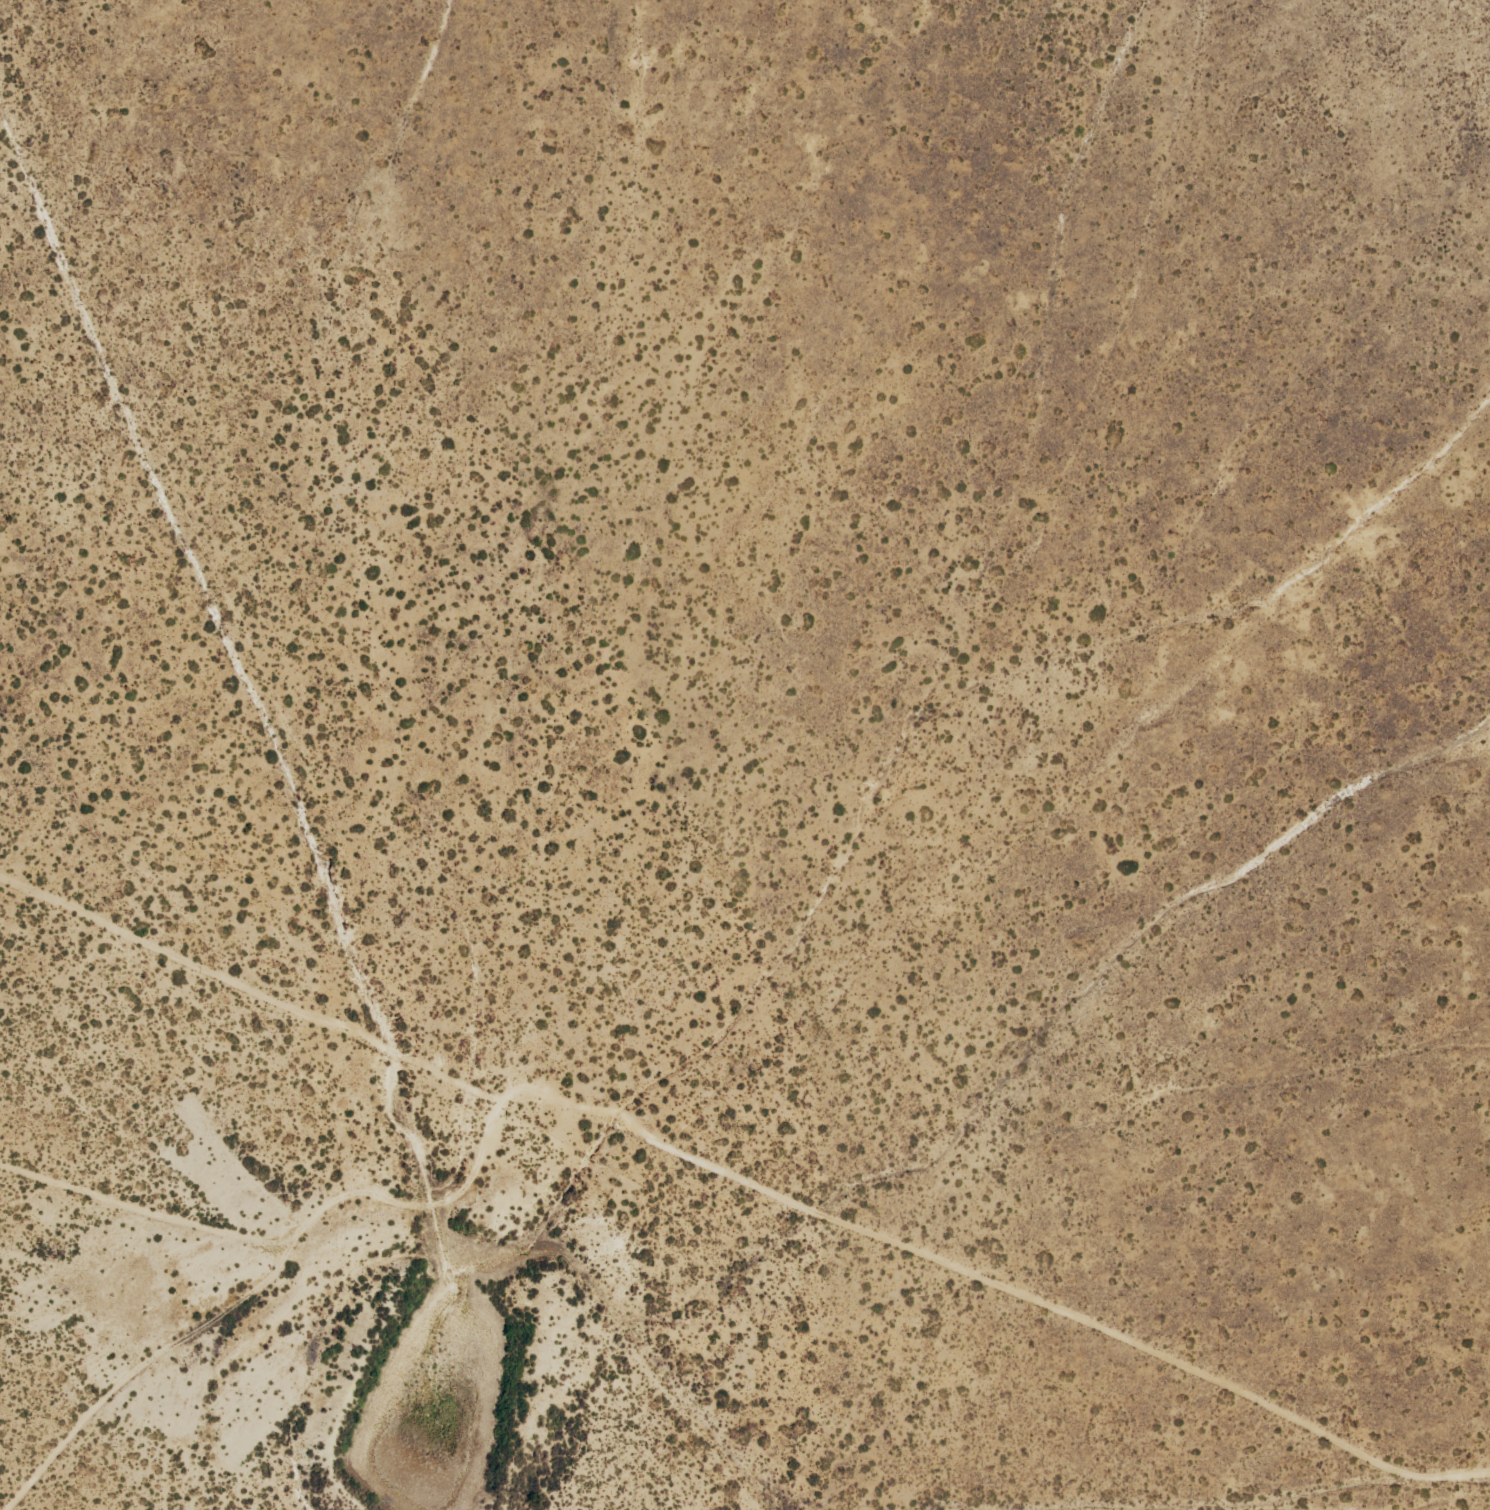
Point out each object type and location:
road: (134, 1188)
road: (861, 1221)
road: (136, 1368)

